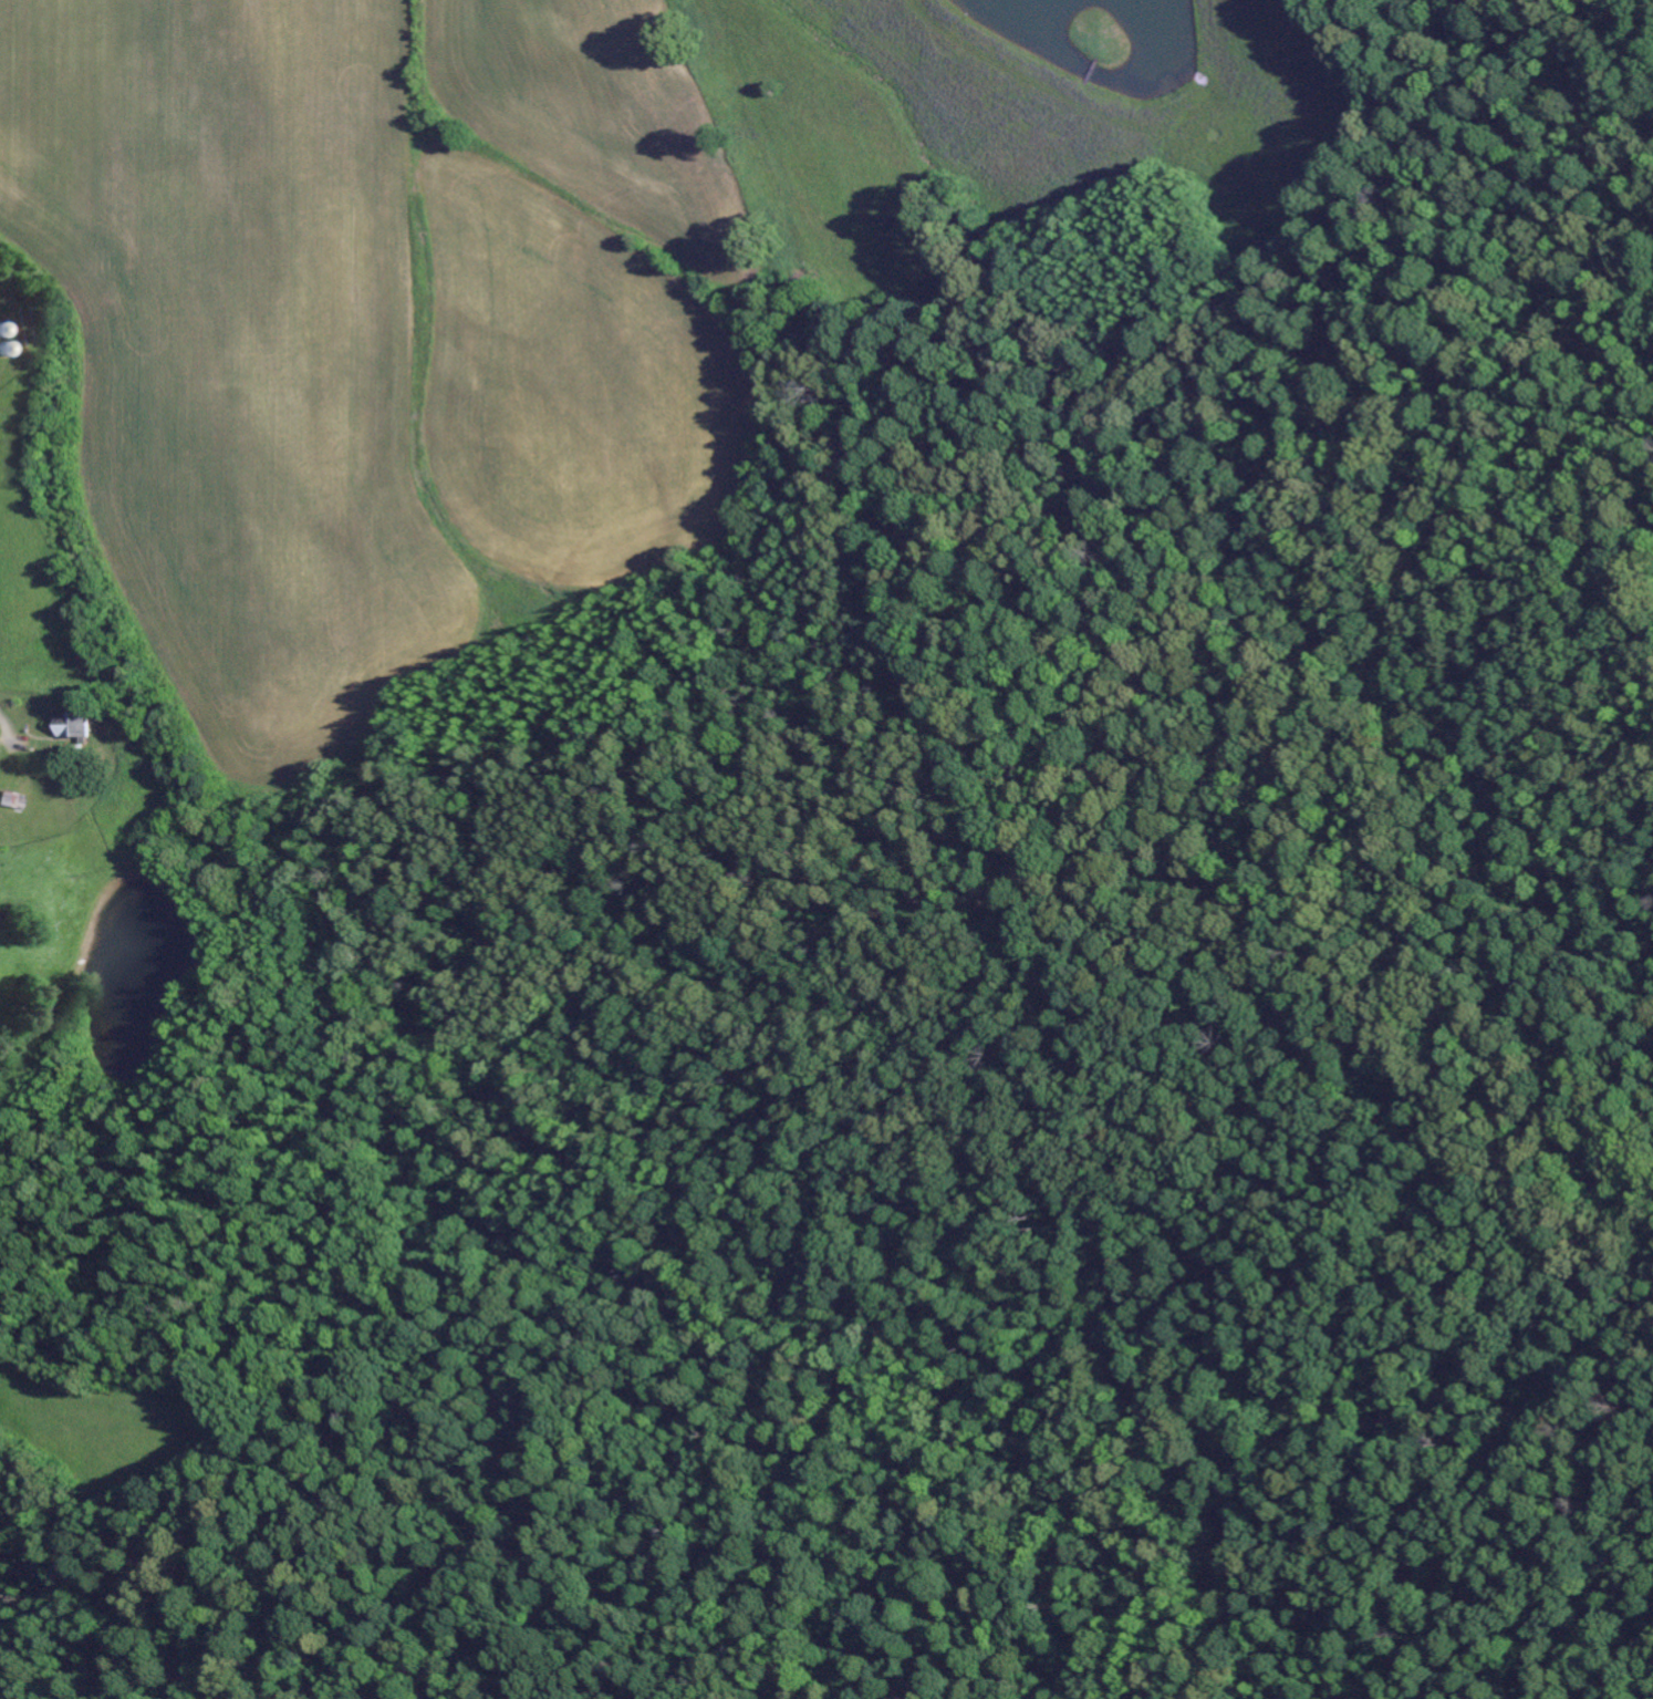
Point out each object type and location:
building: (79, 726)

